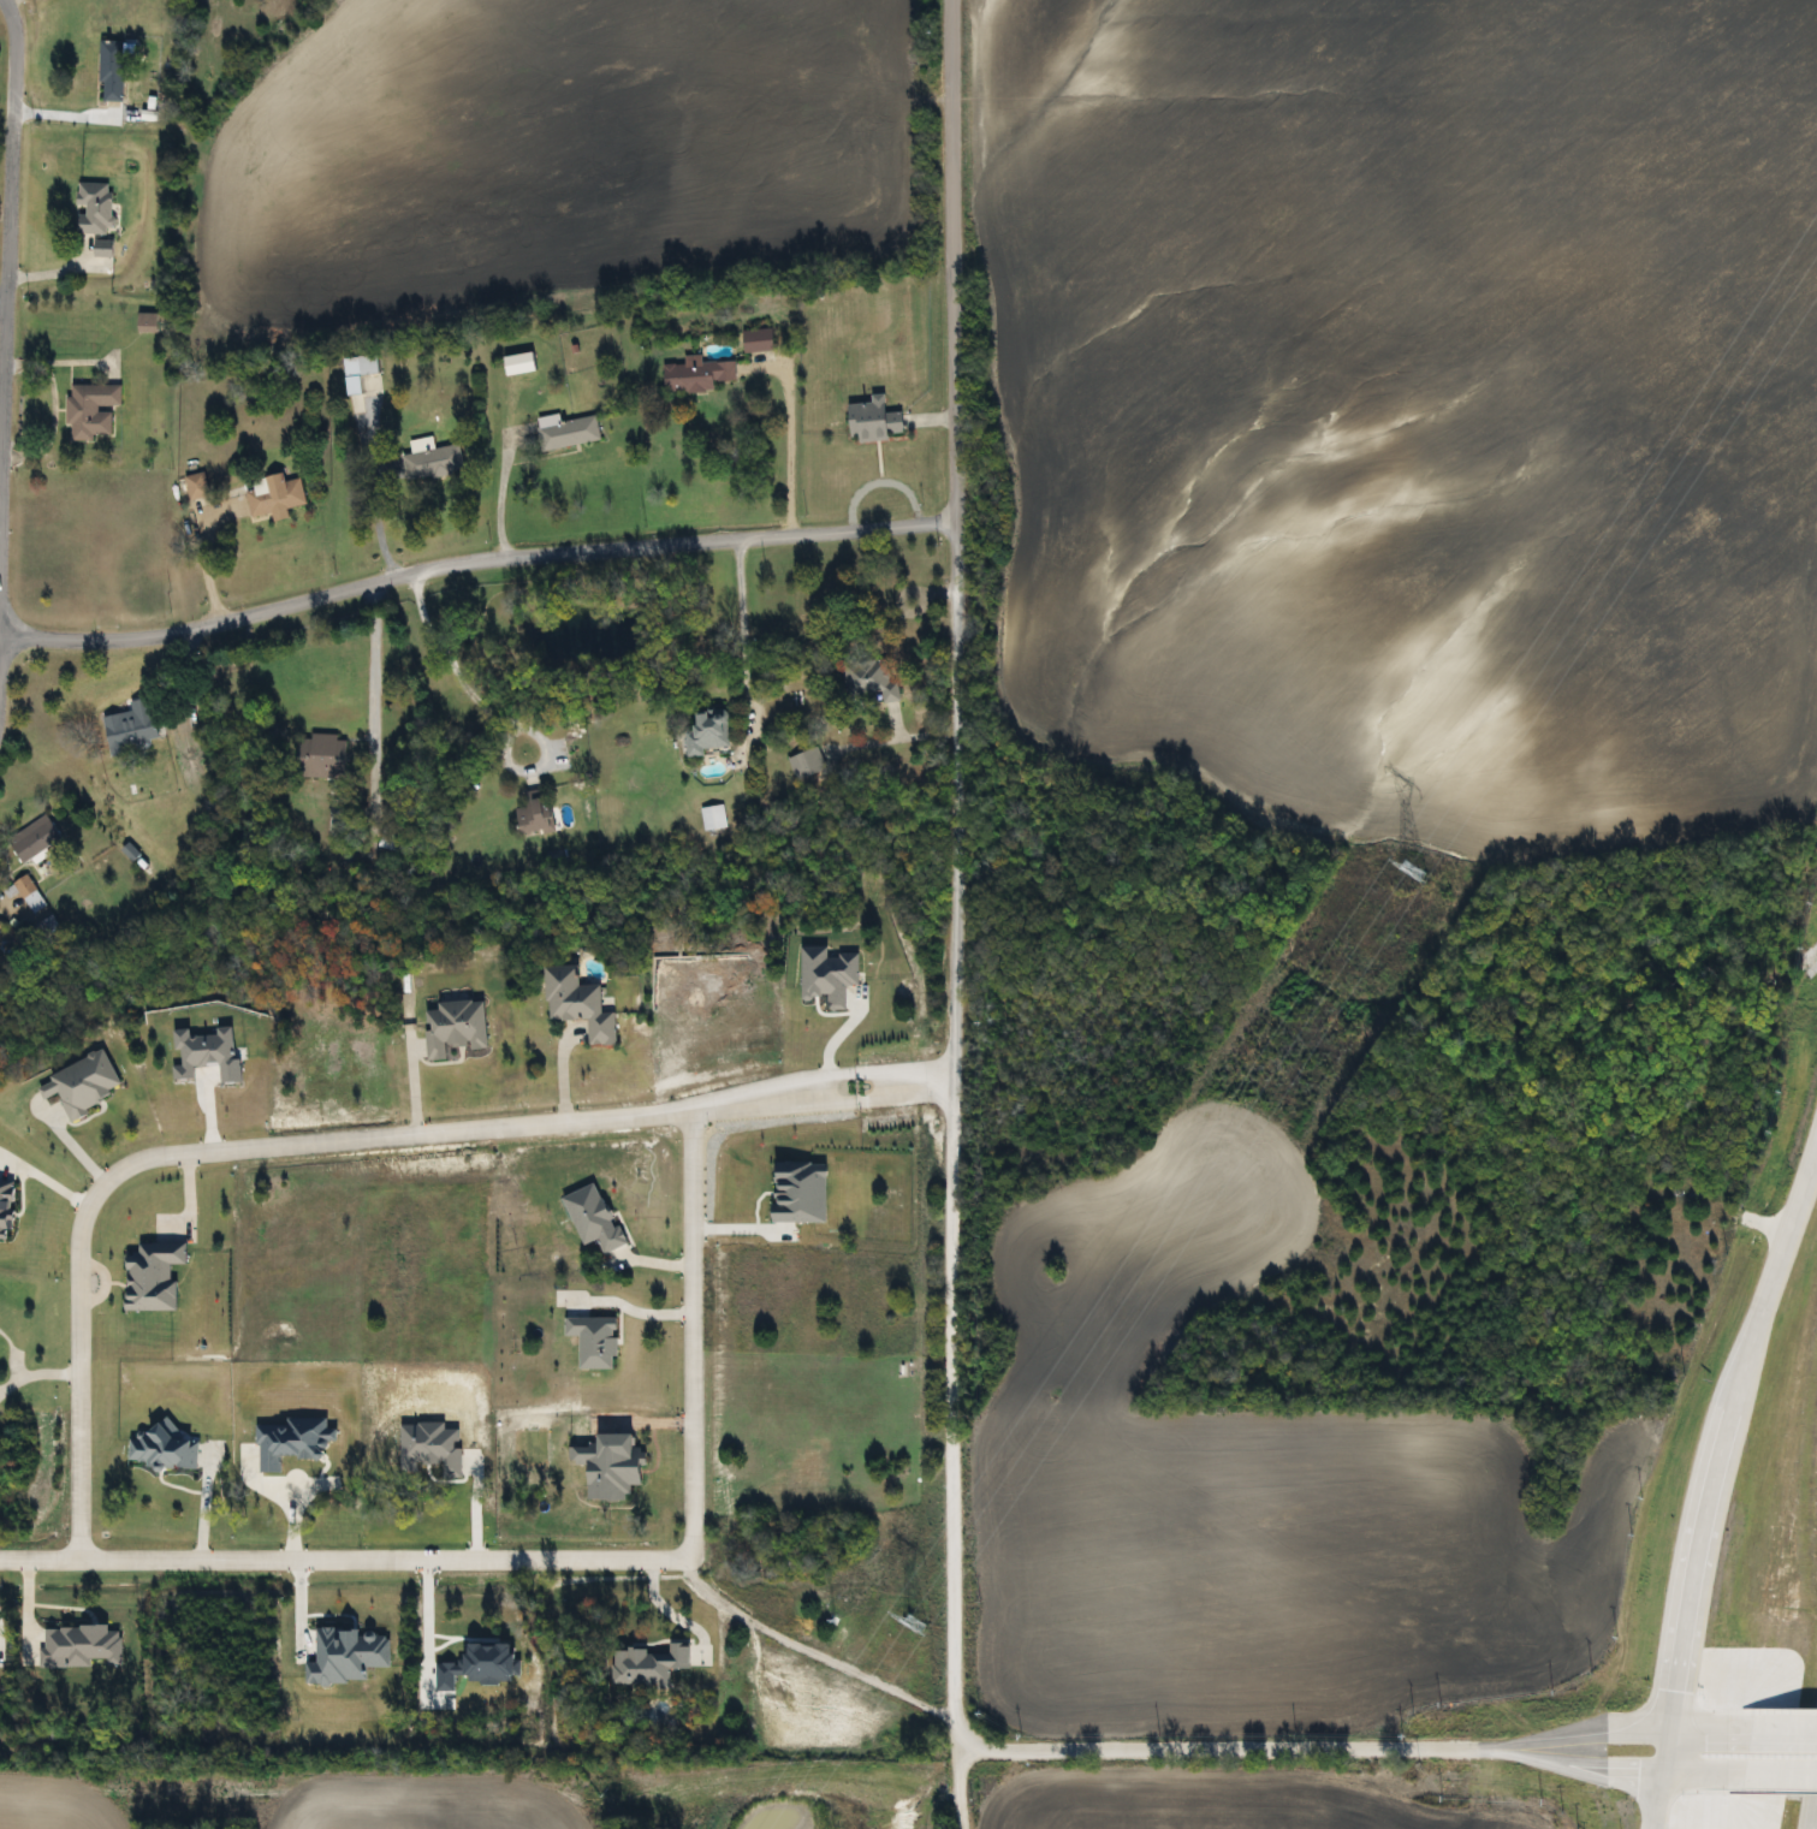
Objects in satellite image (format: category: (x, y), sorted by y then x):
building: (107, 70)
building: (89, 208)
road: (6, 281)
road: (2, 301)
building: (753, 340)
building: (363, 363)
building: (694, 375)
building: (88, 409)
building: (868, 418)
building: (562, 430)
road: (790, 450)
building: (414, 464)
building: (192, 486)
building: (272, 494)
road: (497, 497)
road: (473, 559)
road: (206, 568)
road: (741, 628)
building: (861, 676)
road: (488, 715)
building: (126, 723)
building: (701, 730)
road: (372, 754)
building: (315, 755)
building: (802, 762)
building: (529, 812)
building: (709, 816)
building: (29, 837)
power tower: (1402, 868)
building: (19, 884)
road: (954, 914)
building: (572, 1002)
building: (450, 1026)
road: (830, 1040)
road: (410, 1063)
road: (329, 1139)
road: (44, 1176)
road: (34, 1368)
road: (1720, 1461)
road: (284, 1496)
road: (569, 1560)
power tower: (905, 1625)
road: (807, 1656)
road: (1312, 1752)
road: (1682, 1757)
road: (1759, 1758)
road: (1661, 1793)

